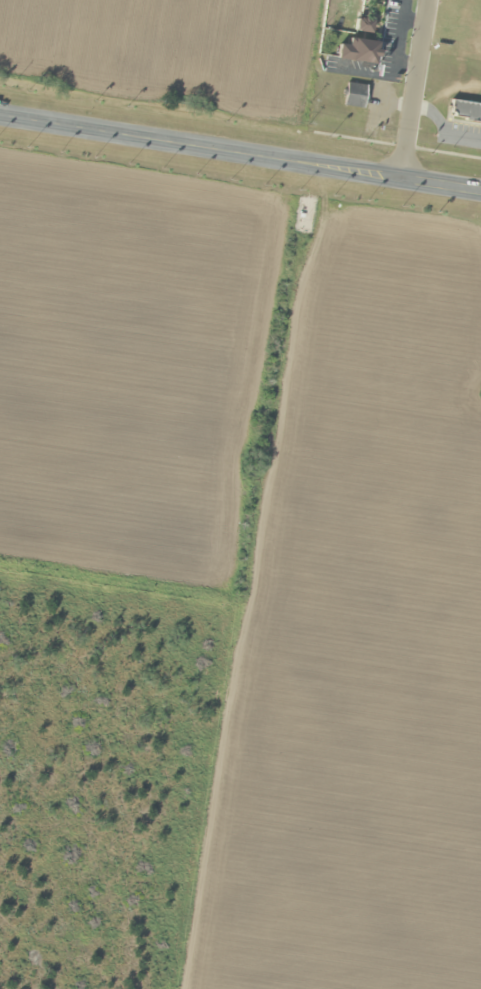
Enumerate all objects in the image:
building: (353, 50)
building: (352, 95)
building: (463, 112)
road: (240, 148)
road: (229, 572)

